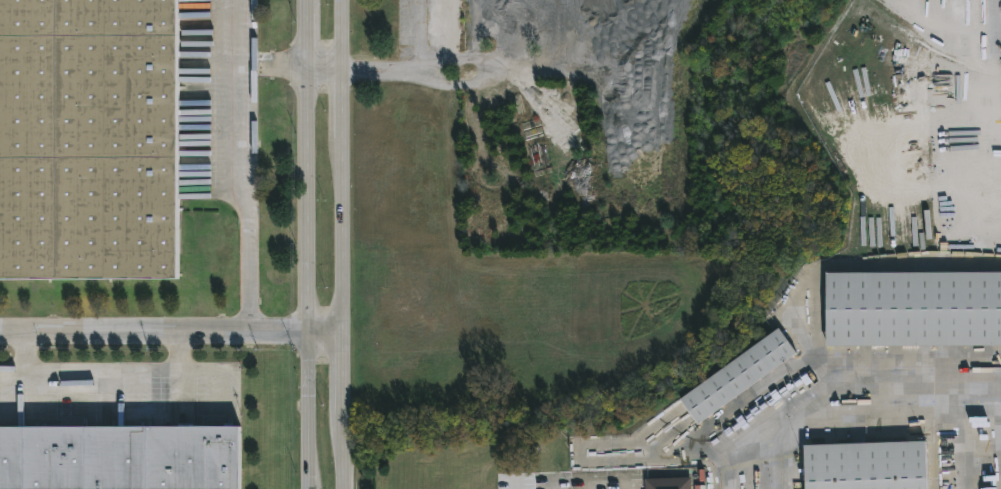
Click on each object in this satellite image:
road: (236, 31)
road: (269, 63)
road: (322, 65)
building: (88, 137)
road: (243, 200)
road: (305, 244)
road: (341, 244)
building: (914, 308)
road: (170, 340)
road: (21, 355)
road: (102, 369)
building: (739, 374)
building: (120, 457)
building: (868, 464)
road: (727, 478)
building: (668, 482)
road: (623, 483)

